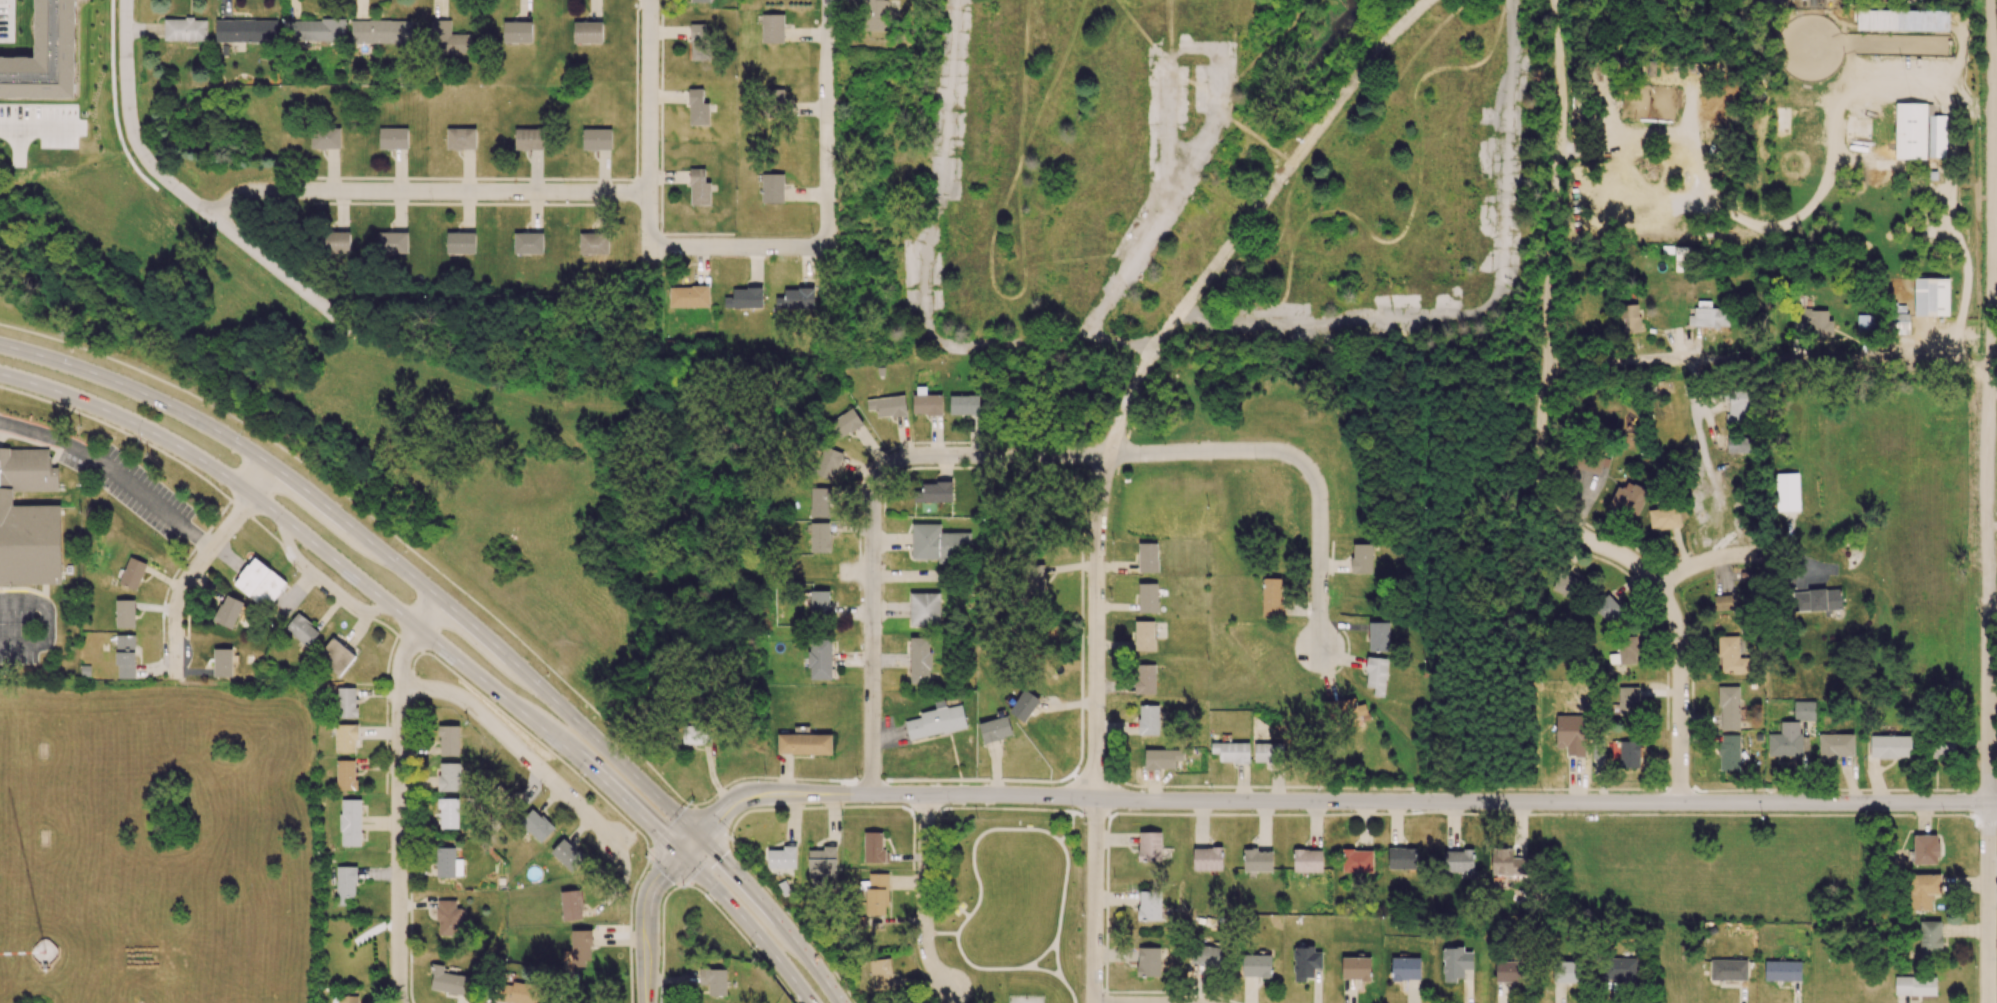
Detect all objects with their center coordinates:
building: (700, 1)
building: (876, 15)
building: (1922, 20)
building: (772, 28)
building: (185, 29)
building: (314, 30)
building: (246, 31)
building: (381, 31)
building: (517, 31)
building: (588, 32)
building: (448, 38)
building: (699, 42)
building: (45, 56)
road: (650, 96)
building: (698, 108)
road: (827, 118)
road: (37, 125)
building: (1918, 132)
building: (325, 138)
building: (393, 138)
building: (461, 138)
building: (528, 139)
building: (596, 139)
road: (1506, 146)
road: (940, 169)
building: (699, 188)
building: (772, 188)
road: (425, 192)
road: (181, 193)
road: (1165, 201)
road: (1553, 235)
building: (338, 242)
building: (393, 242)
building: (460, 243)
building: (528, 243)
building: (594, 243)
road: (716, 248)
building: (1681, 259)
building: (689, 296)
building: (1931, 297)
building: (744, 298)
building: (796, 299)
building: (1708, 316)
building: (1630, 318)
building: (1815, 323)
building: (1866, 323)
building: (1899, 324)
road: (1216, 325)
road: (1151, 355)
road: (1767, 359)
building: (927, 404)
building: (964, 404)
building: (887, 406)
building: (1738, 407)
building: (845, 423)
road: (122, 431)
road: (1988, 436)
building: (1739, 444)
road: (989, 453)
building: (1591, 462)
building: (828, 463)
road: (1306, 463)
road: (112, 471)
building: (932, 492)
building: (1787, 492)
building: (1628, 499)
building: (820, 502)
building: (1664, 518)
building: (28, 520)
road: (375, 521)
building: (820, 537)
building: (938, 543)
road: (376, 548)
building: (1148, 557)
building: (1361, 558)
road: (1706, 560)
road: (199, 563)
building: (132, 573)
building: (1034, 580)
road: (361, 582)
building: (260, 583)
building: (1565, 584)
building: (1271, 597)
building: (1148, 598)
building: (1816, 600)
building: (820, 602)
building: (1722, 602)
road: (1670, 608)
building: (924, 609)
building: (1607, 609)
building: (228, 611)
building: (125, 613)
road: (1993, 617)
road: (48, 619)
building: (302, 630)
road: (871, 632)
building: (1144, 635)
building: (1378, 636)
building: (1625, 651)
building: (125, 656)
building: (336, 656)
building: (1731, 656)
building: (820, 660)
building: (919, 660)
building: (224, 661)
road: (445, 668)
building: (1376, 675)
building: (1144, 679)
building: (1628, 700)
building: (346, 702)
building: (1024, 705)
building: (1728, 708)
building: (1345, 709)
building: (1804, 710)
building: (1148, 720)
building: (936, 721)
building: (994, 729)
building: (1571, 734)
building: (696, 735)
building: (345, 738)
building: (449, 740)
building: (1788, 741)
building: (804, 744)
building: (1835, 745)
road: (148, 746)
road: (515, 747)
building: (1890, 747)
building: (1942, 748)
building: (1232, 752)
building: (1729, 752)
building: (1265, 753)
building: (1629, 754)
building: (1161, 759)
building: (346, 775)
building: (449, 778)
road: (398, 795)
road: (1335, 800)
road: (1992, 802)
road: (819, 808)
road: (1000, 809)
building: (448, 813)
road: (1092, 813)
road: (1551, 815)
road: (712, 821)
building: (350, 822)
building: (537, 825)
road: (672, 829)
road: (1070, 829)
traffic signals: (699, 837)
road: (690, 846)
road: (973, 846)
building: (1149, 846)
building: (873, 848)
building: (1925, 849)
building: (568, 855)
traffic signals: (681, 856)
building: (782, 857)
building: (1207, 858)
building: (1401, 858)
building: (1257, 860)
building: (1307, 860)
building: (1357, 860)
road: (705, 861)
building: (1458, 861)
building: (447, 862)
building: (822, 862)
building: (1507, 863)
road: (666, 868)
road: (1992, 874)
building: (345, 884)
road: (1064, 891)
building: (1923, 891)
building: (877, 894)
road: (925, 896)
road: (1095, 900)
park: (1012, 902)
building: (571, 905)
building: (1149, 906)
road: (1108, 908)
road: (775, 914)
building: (448, 918)
road: (793, 919)
road: (647, 923)
road: (750, 925)
road: (941, 934)
road: (743, 938)
building: (1930, 938)
road: (1987, 938)
building: (581, 947)
building: (1206, 955)
road: (1040, 957)
road: (1056, 960)
building: (1148, 962)
building: (1305, 962)
building: (1455, 963)
building: (1256, 965)
road: (978, 967)
building: (1356, 968)
road: (1042, 969)
building: (1405, 969)
building: (1621, 969)
building: (1728, 970)
building: (1782, 970)
building: (1509, 971)
building: (1566, 972)
building: (880, 974)
building: (447, 981)
building: (714, 981)
building: (1915, 985)
road: (1070, 989)
building: (519, 991)
building: (344, 999)
park: (1027, 999)
road: (399, 1002)

